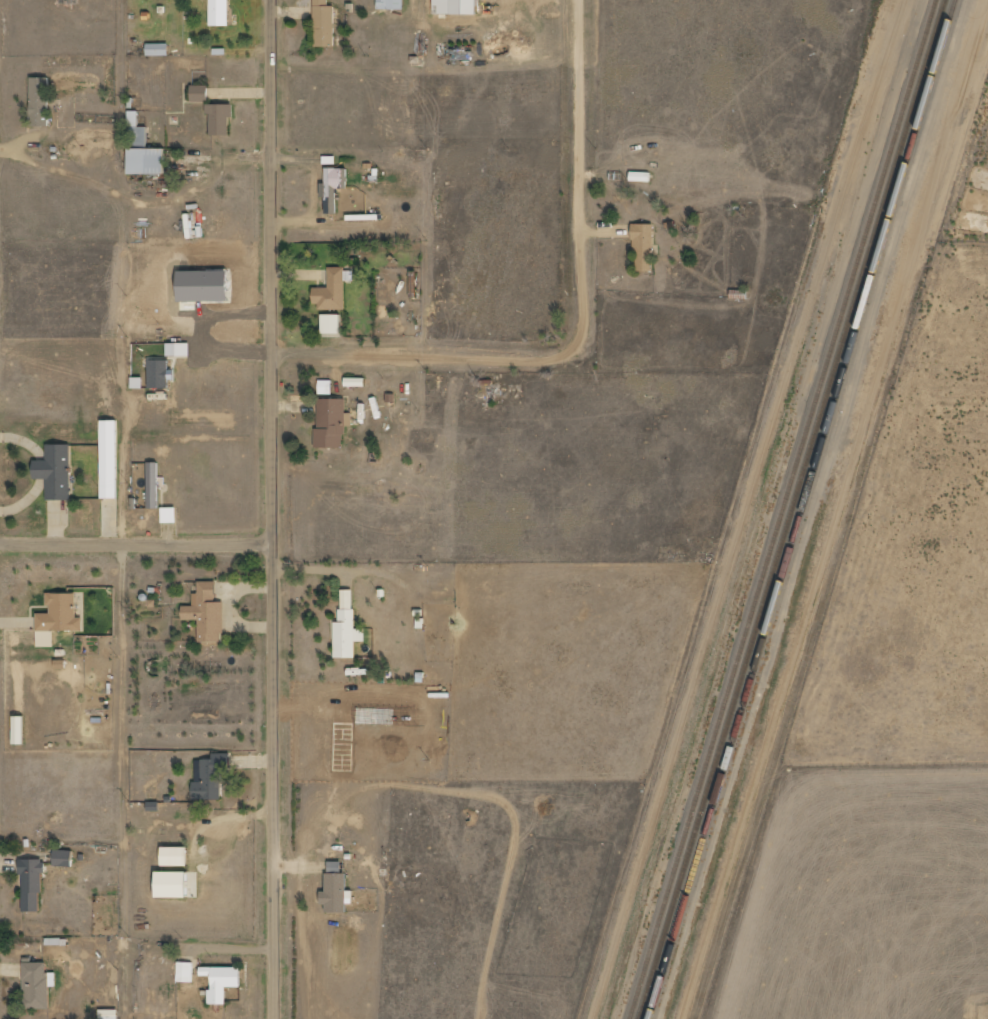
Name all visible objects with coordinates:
building: (391, 4)
building: (456, 6)
building: (220, 12)
building: (325, 23)
building: (158, 49)
building: (200, 93)
building: (41, 101)
building: (220, 118)
building: (144, 150)
building: (641, 177)
building: (334, 187)
road: (579, 239)
building: (644, 247)
building: (206, 286)
building: (332, 291)
building: (332, 324)
building: (178, 349)
road: (359, 350)
building: (158, 374)
building: (138, 382)
building: (355, 382)
building: (325, 387)
building: (332, 422)
building: (110, 459)
building: (56, 471)
building: (153, 485)
road: (273, 509)
railway: (785, 509)
railway: (795, 509)
railway: (805, 509)
building: (169, 516)
road: (136, 541)
building: (207, 612)
building: (58, 618)
building: (347, 628)
building: (20, 730)
building: (211, 776)
building: (176, 857)
building: (64, 858)
building: (32, 884)
building: (173, 885)
building: (185, 972)
building: (224, 985)
building: (109, 1014)

